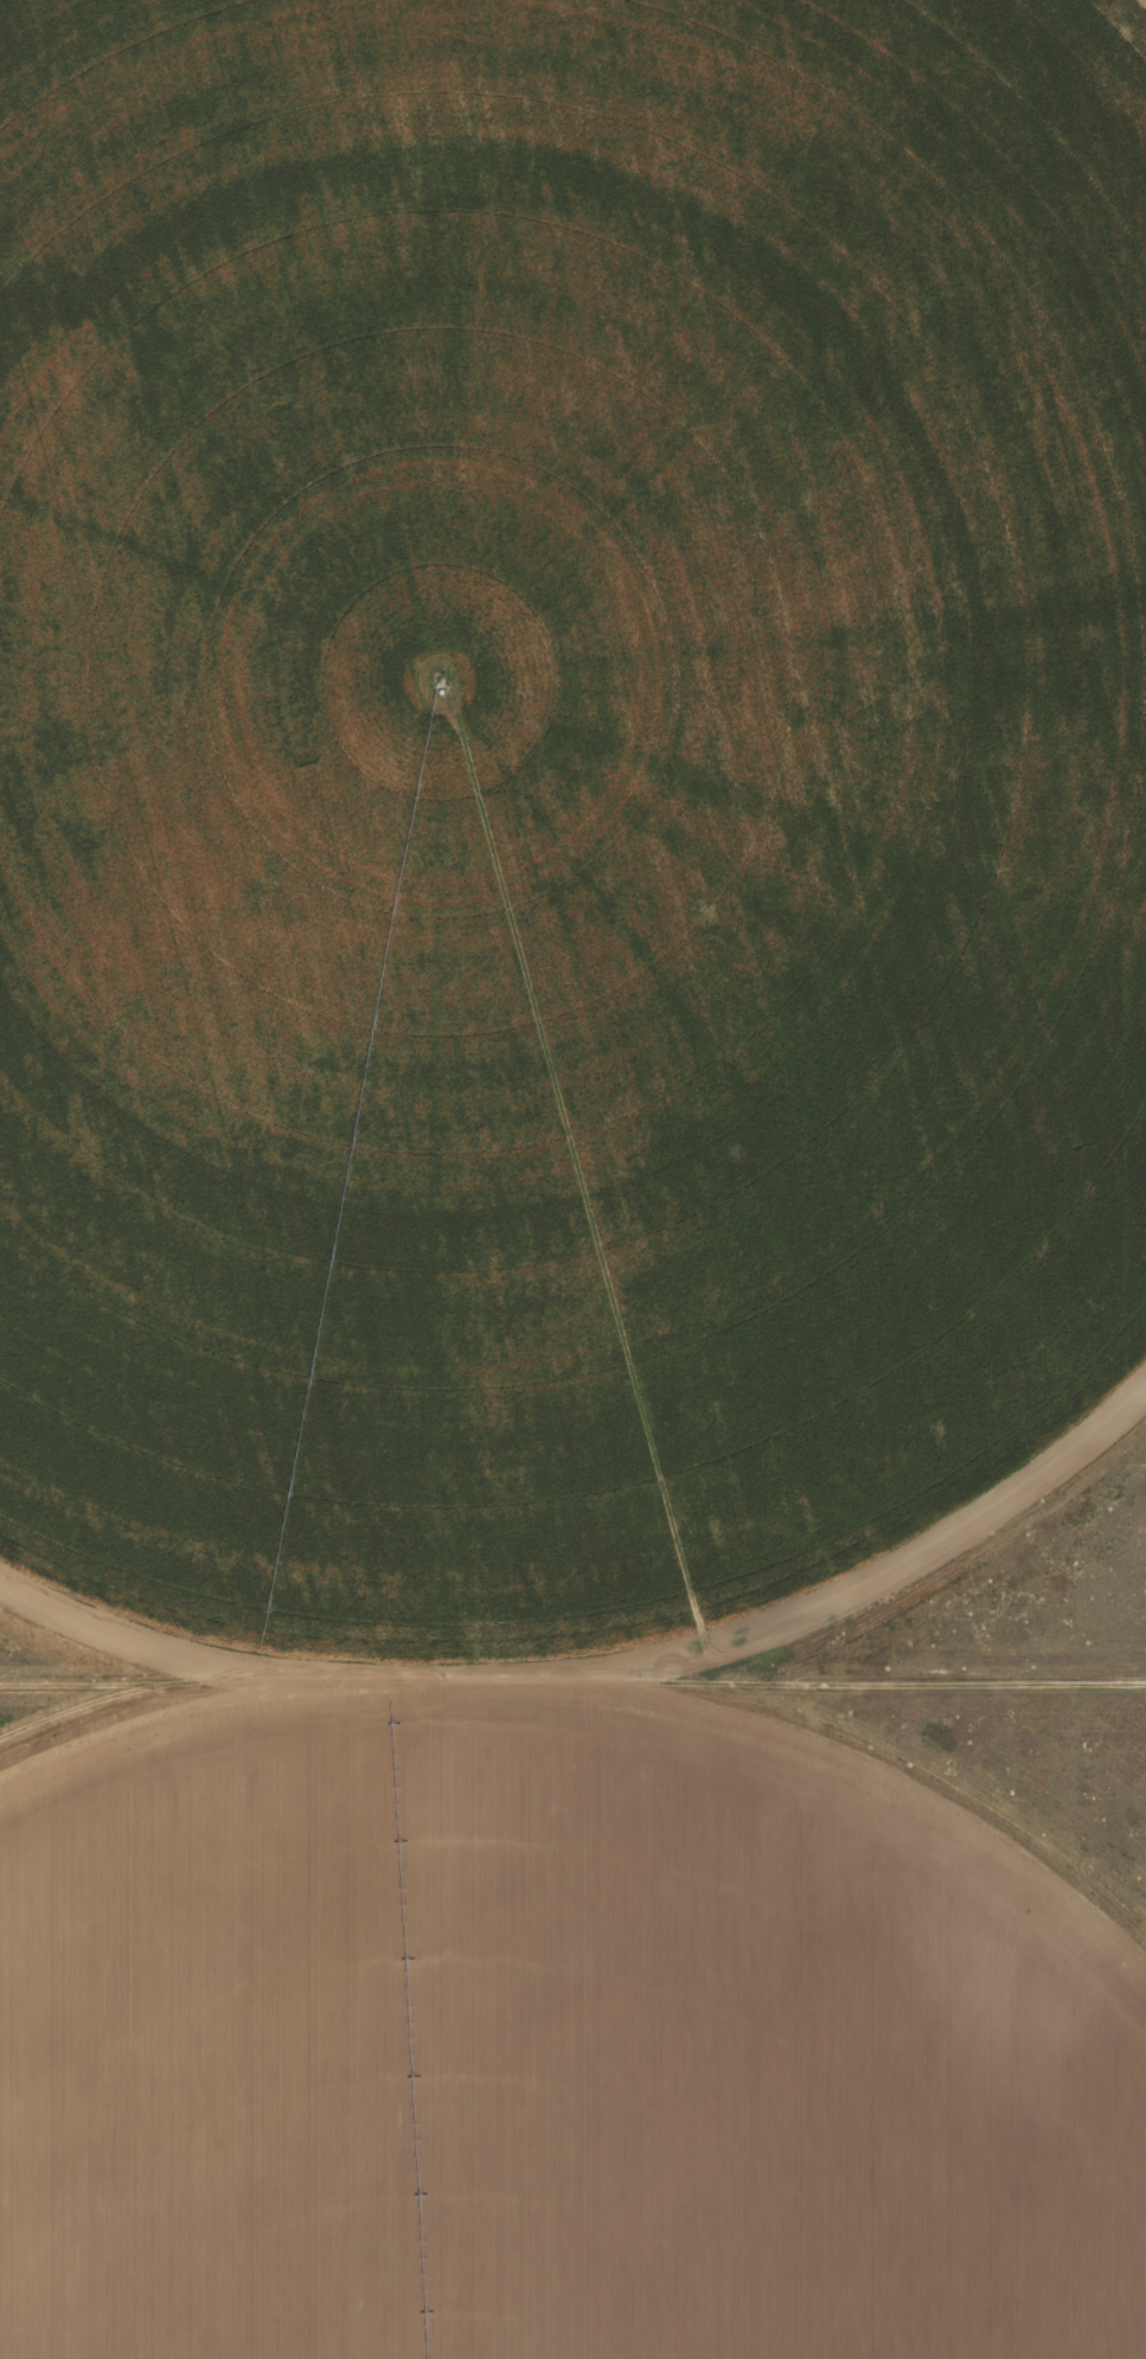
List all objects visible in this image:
road: (776, 429)
road: (572, 1600)

